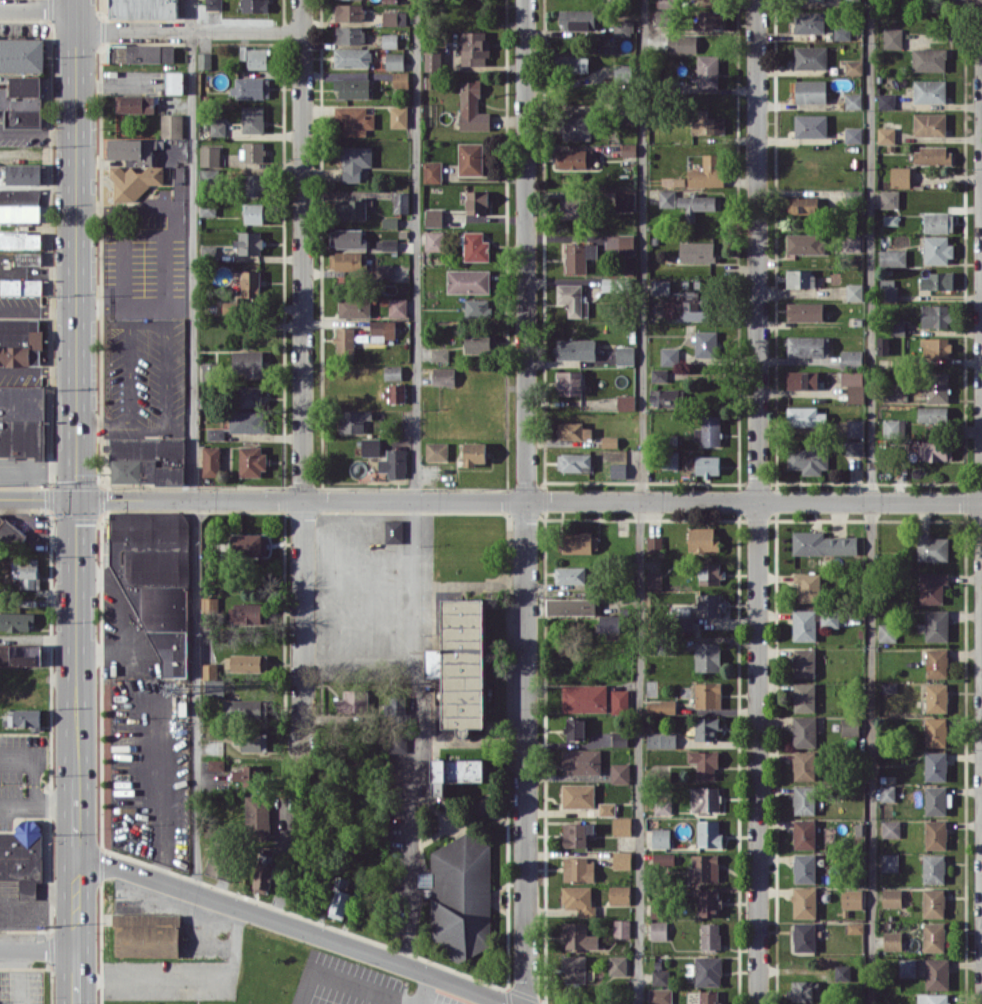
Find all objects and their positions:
building: (801, 0)
building: (390, 1)
railway: (976, 3)
building: (213, 4)
building: (254, 5)
road: (37, 8)
building: (144, 9)
building: (349, 12)
building: (660, 16)
building: (394, 17)
building: (577, 19)
building: (708, 19)
road: (951, 21)
building: (809, 22)
building: (623, 28)
road: (188, 30)
building: (842, 33)
building: (350, 34)
building: (892, 38)
building: (390, 40)
building: (682, 43)
building: (474, 47)
building: (141, 53)
building: (22, 55)
building: (254, 57)
building: (352, 57)
building: (810, 57)
building: (929, 59)
building: (204, 60)
building: (433, 60)
building: (394, 61)
building: (572, 63)
building: (853, 66)
building: (707, 70)
building: (623, 72)
building: (400, 79)
building: (174, 82)
building: (251, 87)
building: (352, 87)
building: (810, 91)
building: (929, 91)
building: (853, 100)
building: (886, 100)
building: (22, 102)
building: (135, 103)
building: (472, 107)
building: (398, 116)
building: (253, 119)
building: (354, 119)
building: (707, 124)
building: (929, 124)
building: (171, 125)
building: (810, 125)
building: (217, 126)
building: (576, 127)
road: (37, 132)
building: (853, 134)
building: (886, 134)
building: (628, 149)
building: (252, 151)
building: (932, 155)
building: (210, 156)
building: (470, 158)
building: (574, 158)
building: (355, 161)
building: (134, 167)
building: (432, 172)
building: (707, 172)
building: (24, 173)
building: (900, 176)
building: (254, 184)
building: (30, 195)
building: (666, 198)
building: (889, 198)
building: (625, 199)
building: (477, 201)
building: (401, 202)
building: (698, 204)
building: (803, 204)
building: (208, 207)
building: (350, 207)
building: (572, 207)
building: (20, 213)
building: (254, 213)
building: (433, 217)
building: (938, 222)
building: (347, 238)
building: (20, 239)
building: (434, 240)
building: (249, 242)
building: (852, 242)
building: (619, 243)
building: (805, 243)
building: (389, 244)
building: (476, 246)
road: (415, 249)
building: (938, 249)
building: (209, 250)
road: (165, 251)
building: (697, 251)
building: (579, 256)
building: (893, 257)
building: (28, 258)
building: (346, 261)
building: (384, 270)
building: (800, 278)
building: (937, 280)
building: (468, 281)
building: (250, 284)
building: (609, 284)
building: (21, 286)
building: (660, 286)
building: (888, 289)
building: (854, 291)
building: (572, 299)
building: (696, 305)
building: (398, 306)
building: (354, 307)
building: (478, 308)
building: (804, 311)
building: (934, 315)
building: (382, 330)
building: (345, 339)
building: (20, 341)
building: (478, 342)
building: (705, 343)
building: (883, 345)
building: (807, 346)
building: (935, 347)
building: (575, 348)
building: (439, 354)
building: (625, 355)
building: (669, 356)
building: (851, 359)
building: (248, 363)
road: (302, 371)
building: (393, 372)
building: (207, 373)
building: (659, 375)
building: (443, 376)
building: (802, 379)
building: (569, 382)
building: (853, 385)
building: (937, 387)
road: (75, 389)
building: (395, 392)
building: (894, 394)
building: (250, 396)
building: (664, 397)
building: (626, 402)
building: (932, 414)
building: (805, 416)
building: (21, 419)
building: (247, 420)
building: (353, 420)
building: (894, 427)
building: (855, 428)
building: (573, 430)
building: (708, 430)
building: (216, 433)
building: (609, 441)
road: (194, 446)
building: (370, 447)
building: (854, 447)
building: (934, 450)
building: (437, 451)
building: (474, 453)
building: (670, 459)
building: (148, 460)
building: (211, 461)
building: (251, 461)
building: (574, 462)
building: (394, 463)
road: (38, 465)
building: (707, 465)
traffic signals: (76, 498)
road: (490, 499)
road: (638, 501)
road: (757, 501)
road: (871, 501)
road: (524, 502)
building: (10, 528)
building: (393, 531)
building: (702, 539)
building: (579, 542)
building: (654, 543)
building: (822, 543)
building: (247, 544)
building: (931, 547)
road: (375, 549)
building: (710, 573)
building: (29, 574)
building: (570, 574)
building: (156, 579)
building: (653, 580)
building: (808, 586)
building: (932, 587)
road: (333, 593)
building: (210, 604)
building: (709, 604)
building: (571, 606)
building: (250, 613)
building: (683, 616)
building: (830, 618)
road: (121, 619)
building: (16, 621)
building: (610, 623)
building: (804, 625)
building: (936, 625)
building: (887, 632)
building: (842, 636)
building: (20, 654)
building: (707, 656)
building: (804, 662)
building: (936, 662)
building: (246, 663)
building: (461, 664)
building: (209, 671)
building: (214, 687)
building: (889, 687)
building: (707, 695)
building: (804, 697)
building: (936, 697)
building: (584, 698)
building: (619, 701)
building: (349, 703)
building: (660, 707)
building: (245, 709)
building: (23, 717)
building: (849, 726)
building: (575, 728)
building: (707, 728)
building: (804, 731)
building: (935, 731)
road: (416, 732)
building: (619, 738)
building: (661, 739)
building: (252, 741)
building: (397, 748)
building: (581, 761)
building: (704, 762)
building: (215, 764)
building: (804, 765)
building: (935, 765)
building: (457, 772)
building: (620, 773)
building: (251, 775)
building: (887, 793)
building: (577, 795)
building: (705, 798)
building: (804, 799)
building: (936, 800)
road: (37, 801)
building: (663, 806)
building: (606, 808)
road: (75, 816)
building: (258, 817)
building: (622, 826)
building: (890, 828)
building: (709, 833)
building: (804, 833)
building: (576, 834)
building: (935, 834)
building: (658, 838)
building: (222, 853)
building: (22, 855)
building: (662, 858)
building: (622, 859)
building: (890, 862)
building: (705, 867)
building: (804, 868)
building: (933, 868)
building: (579, 869)
building: (263, 878)
building: (619, 894)
building: (461, 896)
building: (891, 897)
building: (851, 898)
building: (339, 899)
building: (578, 900)
building: (708, 902)
building: (804, 902)
building: (933, 902)
road: (37, 906)
building: (657, 908)
road: (293, 927)
building: (855, 927)
road: (75, 928)
building: (621, 928)
building: (658, 930)
building: (147, 935)
building: (710, 935)
building: (578, 936)
building: (804, 936)
building: (933, 936)
building: (892, 940)
road: (37, 949)
building: (617, 965)
building: (907, 967)
building: (574, 969)
building: (705, 970)
building: (842, 972)
building: (937, 973)
park: (321, 976)
building: (660, 977)
building: (800, 990)
building: (660, 995)
building: (708, 997)
building: (932, 998)

